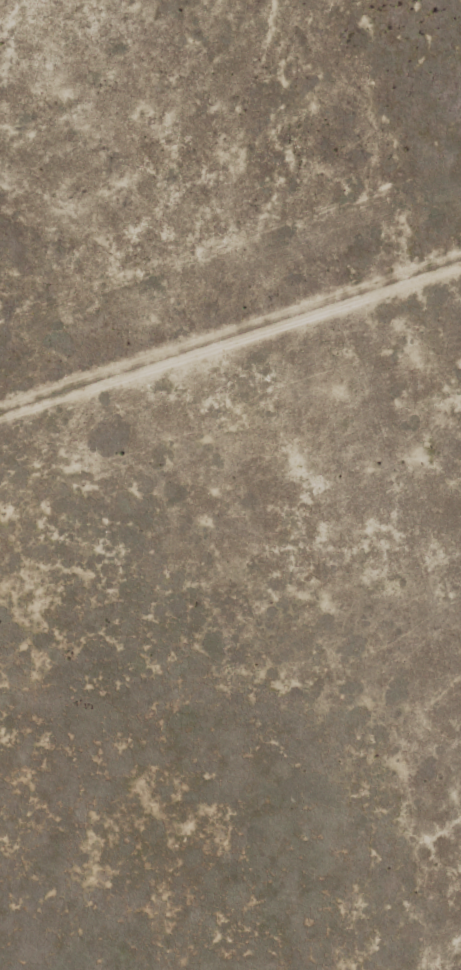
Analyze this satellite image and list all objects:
airport runway: (230, 256)

